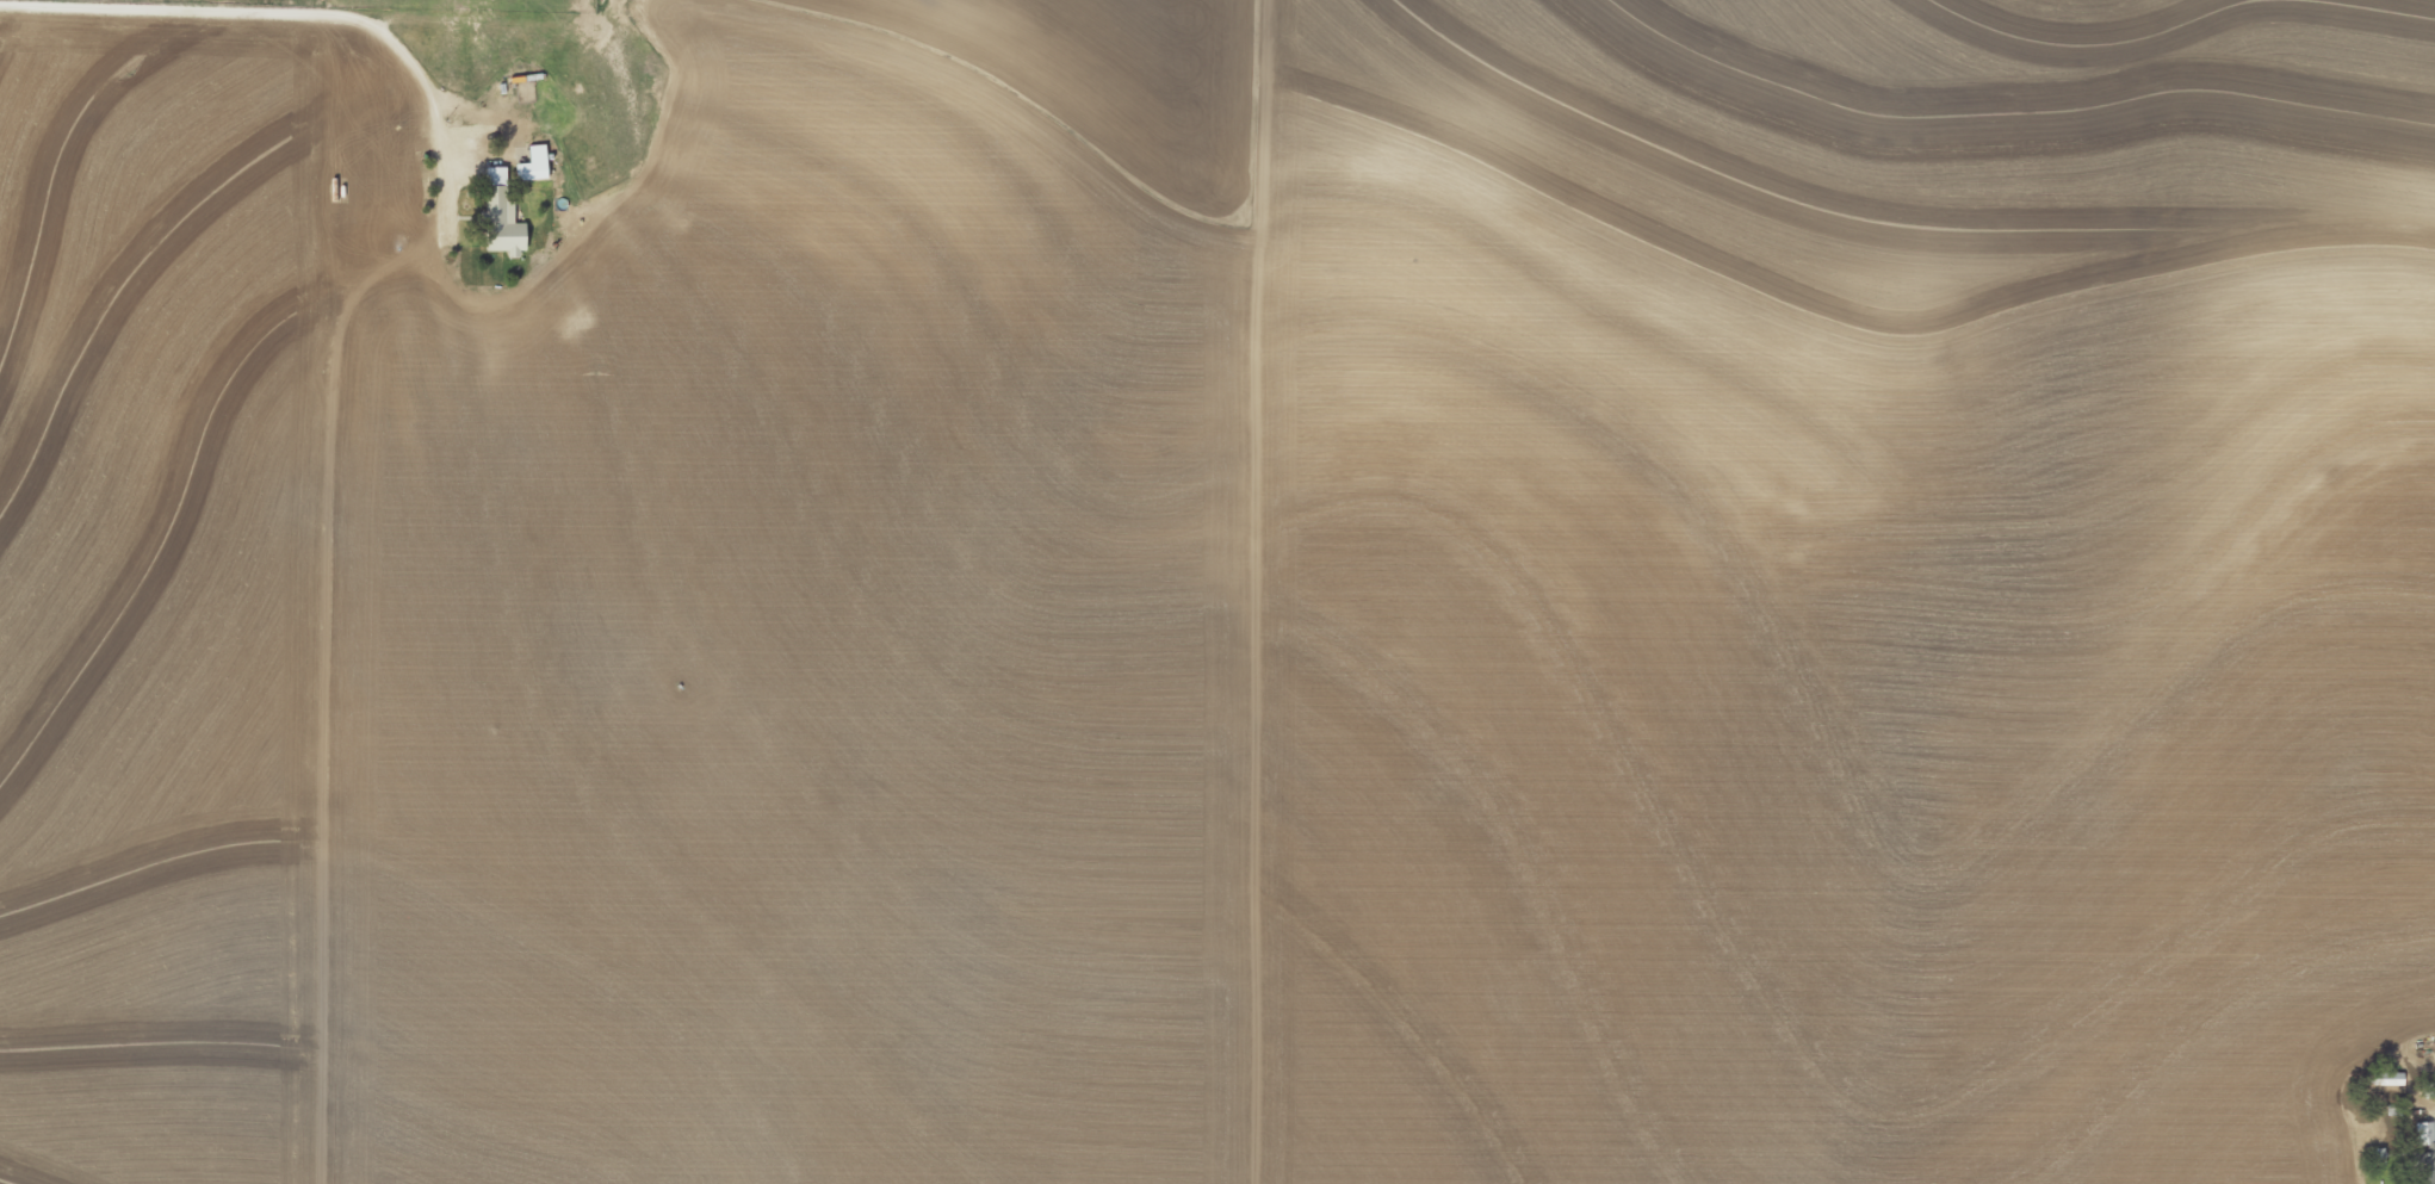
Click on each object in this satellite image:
road: (244, 24)

